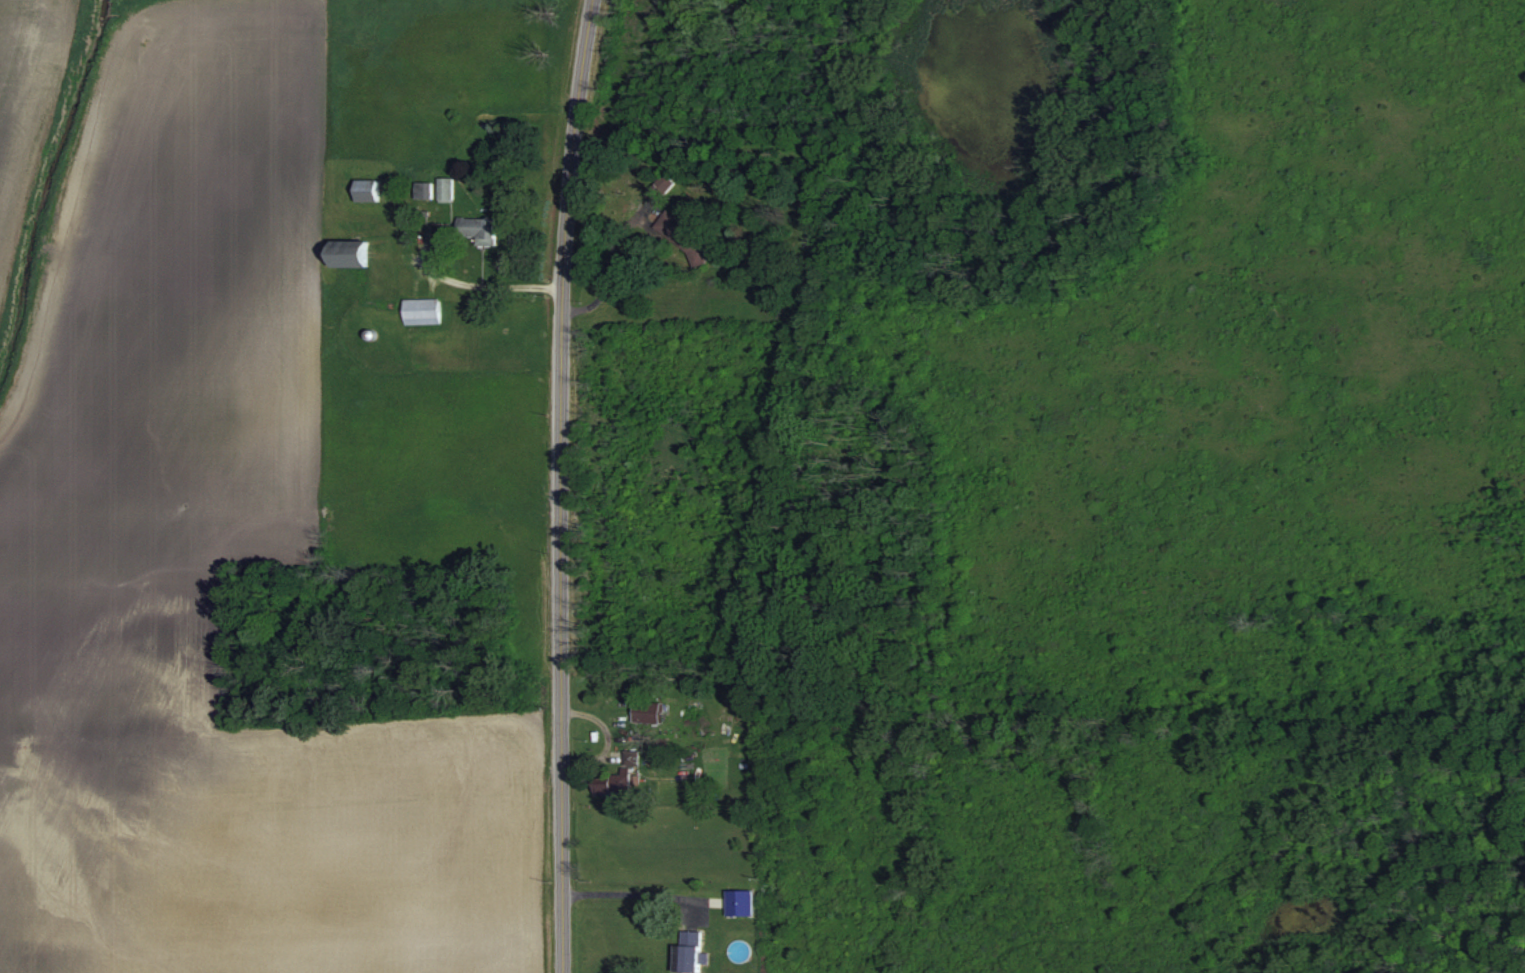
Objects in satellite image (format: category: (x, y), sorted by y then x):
building: (461, 152)
building: (661, 186)
building: (368, 189)
building: (448, 189)
building: (426, 190)
building: (480, 229)
building: (687, 235)
building: (354, 252)
road: (460, 284)
building: (424, 310)
road: (560, 485)
building: (649, 710)
building: (621, 777)
road: (627, 891)
building: (691, 950)

